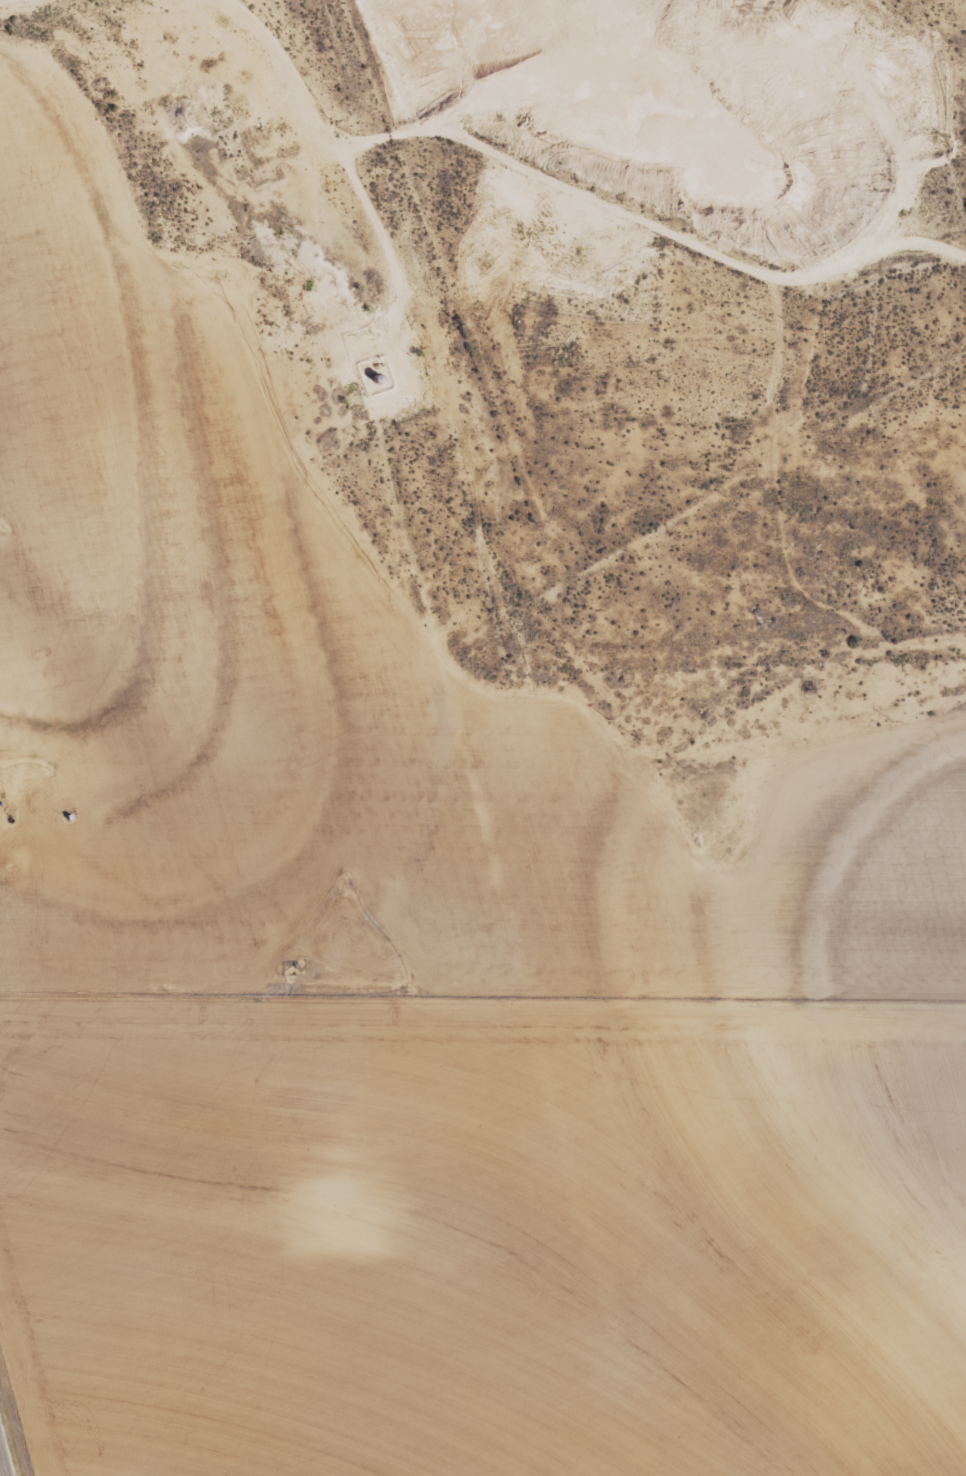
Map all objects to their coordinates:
road: (3, 1462)

